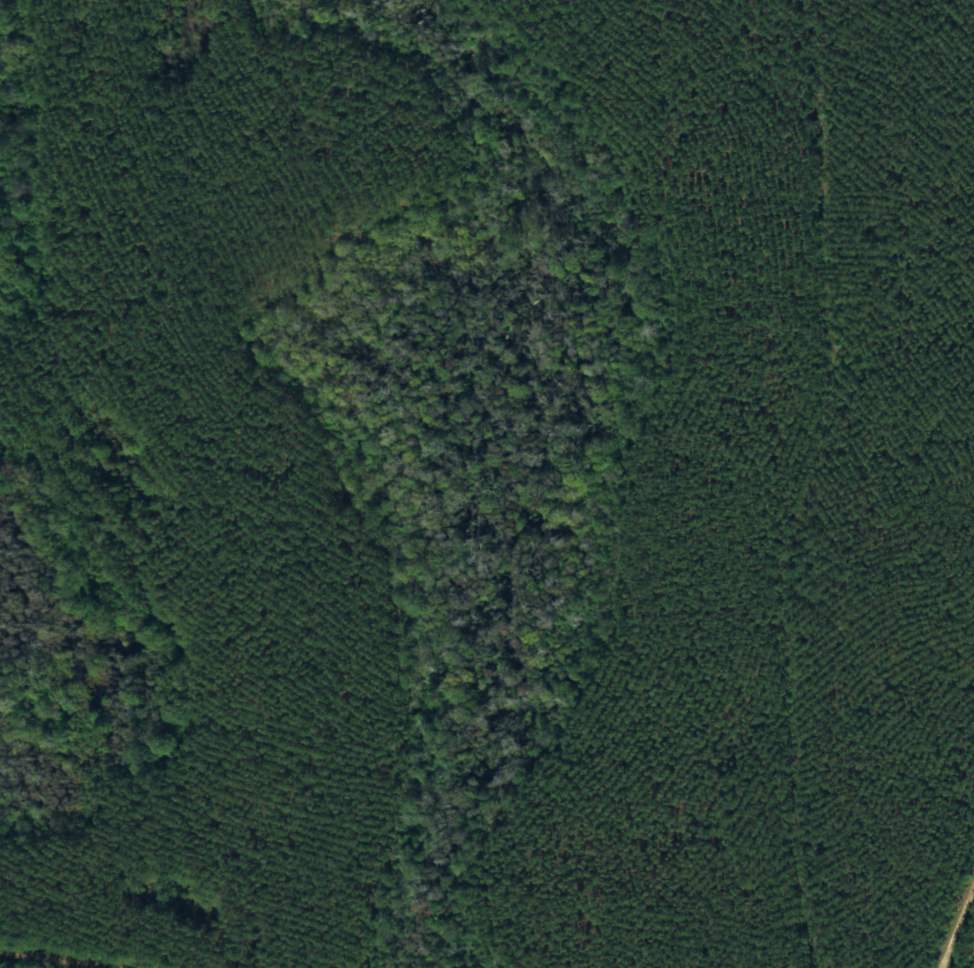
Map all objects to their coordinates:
road: (959, 929)

